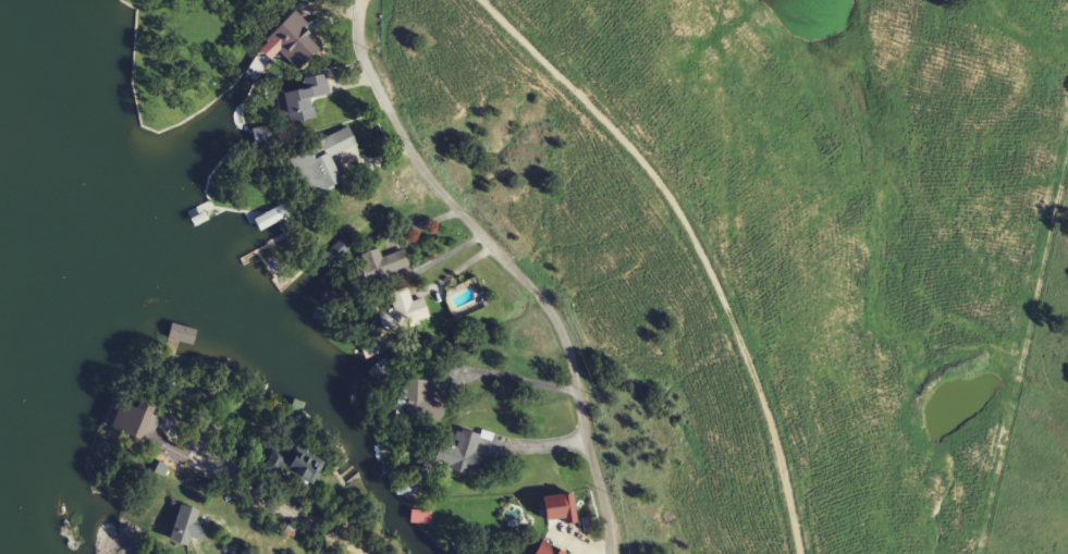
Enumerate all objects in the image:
building: (293, 44)
building: (303, 100)
building: (322, 163)
building: (196, 221)
building: (267, 223)
building: (383, 263)
road: (508, 263)
building: (403, 312)
building: (181, 341)
building: (421, 404)
building: (145, 431)
road: (538, 445)
building: (463, 455)
building: (295, 466)
road: (295, 516)
building: (418, 521)
building: (187, 527)
building: (550, 550)

